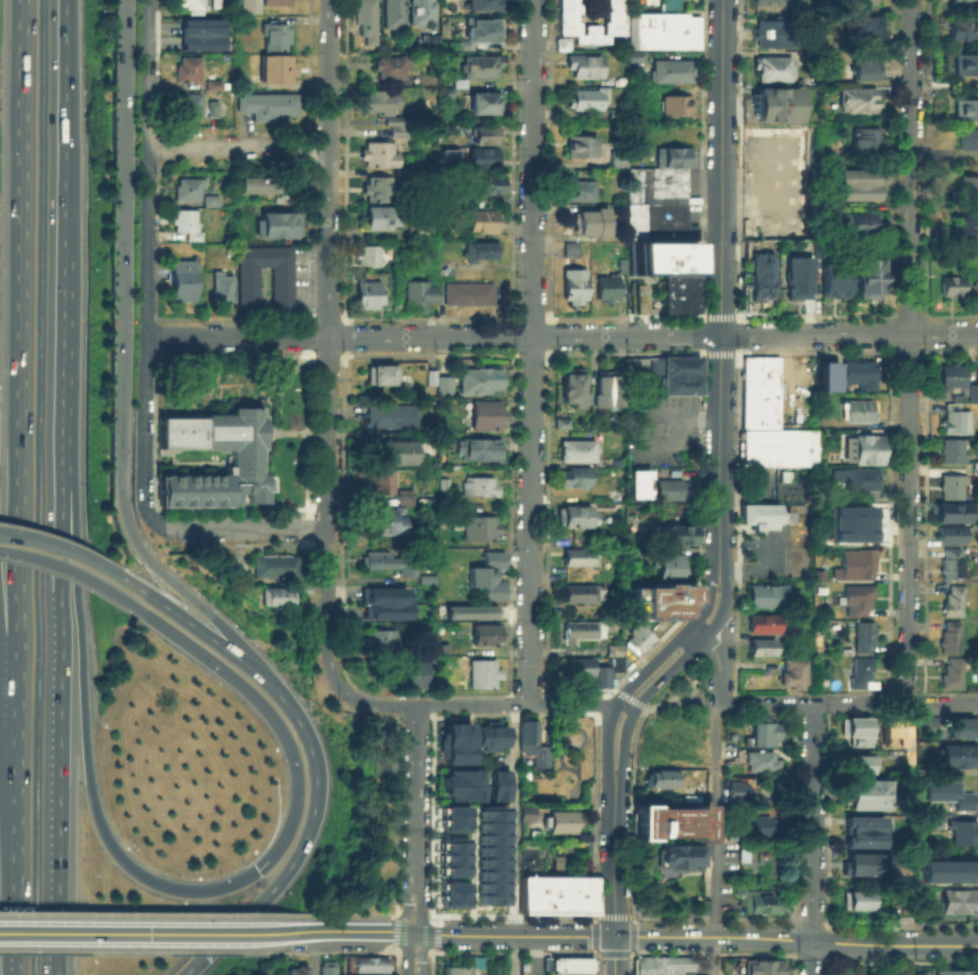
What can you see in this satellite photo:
building: (763, 2)
building: (962, 2)
building: (278, 3)
building: (860, 3)
building: (218, 4)
building: (669, 4)
building: (832, 4)
building: (489, 5)
building: (193, 6)
building: (248, 7)
building: (423, 13)
building: (395, 15)
building: (368, 17)
building: (567, 22)
building: (771, 26)
building: (866, 28)
building: (961, 30)
building: (660, 32)
building: (201, 33)
building: (483, 34)
building: (278, 37)
building: (823, 37)
building: (428, 39)
building: (770, 40)
building: (561, 42)
building: (433, 45)
building: (961, 65)
building: (394, 66)
building: (586, 66)
building: (863, 66)
building: (772, 68)
building: (191, 70)
building: (480, 70)
building: (279, 71)
building: (669, 72)
building: (826, 78)
building: (217, 86)
building: (443, 91)
building: (382, 101)
building: (589, 101)
building: (854, 101)
building: (481, 102)
building: (672, 105)
building: (775, 105)
building: (191, 107)
building: (270, 107)
building: (215, 110)
building: (961, 110)
building: (619, 117)
building: (396, 125)
road: (60, 132)
building: (483, 134)
building: (966, 139)
building: (861, 141)
road: (237, 145)
building: (582, 149)
building: (382, 156)
building: (448, 156)
building: (672, 157)
building: (486, 159)
building: (617, 159)
road: (327, 168)
building: (407, 177)
building: (855, 178)
building: (787, 183)
building: (654, 185)
building: (260, 187)
building: (488, 187)
building: (965, 188)
building: (578, 189)
building: (190, 191)
building: (379, 191)
building: (854, 194)
building: (213, 203)
building: (384, 220)
building: (788, 222)
building: (486, 223)
building: (656, 223)
building: (282, 224)
building: (593, 224)
building: (857, 224)
building: (189, 225)
building: (965, 227)
building: (418, 232)
building: (574, 251)
building: (482, 252)
building: (370, 257)
road: (145, 267)
building: (624, 268)
road: (721, 270)
building: (761, 277)
building: (797, 278)
building: (866, 278)
building: (838, 279)
building: (974, 281)
building: (185, 282)
building: (950, 286)
building: (224, 287)
building: (577, 288)
building: (609, 290)
building: (283, 293)
building: (471, 295)
building: (372, 296)
building: (680, 296)
building: (421, 298)
building: (636, 298)
building: (743, 304)
road: (652, 334)
road: (236, 338)
road: (908, 350)
road: (531, 352)
road: (124, 361)
building: (856, 373)
building: (826, 375)
building: (950, 375)
building: (384, 376)
building: (680, 376)
road: (58, 377)
building: (432, 379)
building: (482, 382)
building: (610, 384)
building: (445, 389)
building: (972, 389)
building: (760, 396)
building: (262, 402)
building: (858, 411)
building: (488, 417)
building: (394, 418)
building: (561, 422)
building: (439, 423)
building: (958, 424)
parking lot: (661, 439)
building: (778, 449)
building: (866, 450)
building: (481, 452)
building: (581, 452)
building: (955, 452)
building: (402, 454)
building: (247, 462)
building: (976, 465)
building: (976, 472)
building: (576, 480)
building: (860, 480)
building: (638, 483)
road: (325, 484)
building: (382, 485)
building: (446, 486)
road: (20, 487)
building: (482, 487)
building: (955, 488)
building: (675, 492)
building: (616, 497)
building: (826, 505)
building: (954, 514)
building: (393, 516)
building: (761, 516)
building: (579, 518)
building: (863, 518)
road: (243, 526)
building: (482, 530)
road: (58, 537)
building: (683, 537)
building: (954, 537)
building: (854, 539)
road: (21, 547)
building: (583, 559)
road: (88, 560)
building: (388, 561)
building: (853, 565)
building: (953, 565)
building: (276, 567)
building: (673, 569)
building: (240, 570)
road: (762, 570)
building: (491, 576)
building: (425, 578)
road: (85, 579)
building: (381, 594)
building: (587, 595)
building: (855, 597)
building: (276, 598)
building: (768, 598)
building: (668, 601)
building: (957, 602)
building: (383, 610)
building: (468, 611)
road: (71, 622)
road: (193, 626)
building: (765, 626)
road: (684, 631)
building: (584, 633)
building: (793, 634)
road: (705, 635)
road: (726, 635)
building: (490, 637)
building: (861, 637)
building: (953, 638)
building: (642, 639)
building: (381, 643)
building: (764, 649)
road: (717, 659)
road: (325, 661)
building: (599, 670)
building: (860, 672)
building: (797, 674)
building: (956, 675)
building: (486, 676)
road: (7, 677)
building: (411, 678)
road: (689, 689)
road: (633, 700)
road: (849, 702)
road: (375, 703)
road: (525, 704)
road: (699, 704)
building: (925, 719)
building: (854, 726)
building: (960, 726)
building: (759, 730)
building: (453, 732)
building: (483, 735)
building: (498, 735)
building: (531, 742)
building: (453, 752)
building: (956, 754)
road: (606, 756)
road: (624, 758)
building: (759, 758)
building: (856, 764)
building: (524, 774)
building: (459, 775)
building: (497, 776)
building: (660, 778)
road: (55, 779)
building: (862, 787)
building: (734, 789)
building: (460, 791)
building: (497, 792)
building: (949, 792)
building: (862, 802)
building: (536, 808)
building: (526, 812)
building: (643, 812)
road: (415, 817)
building: (453, 818)
building: (927, 818)
road: (715, 819)
building: (560, 820)
building: (676, 822)
building: (755, 823)
building: (859, 824)
building: (729, 830)
building: (961, 830)
building: (534, 833)
road: (285, 835)
building: (582, 835)
road: (307, 836)
road: (812, 839)
road: (514, 840)
building: (858, 840)
building: (490, 854)
building: (679, 854)
building: (452, 856)
building: (557, 861)
building: (861, 861)
traffic signals: (258, 868)
building: (947, 870)
road: (615, 871)
building: (452, 893)
building: (554, 894)
building: (755, 898)
building: (956, 900)
building: (851, 901)
building: (703, 904)
road: (158, 913)
road: (355, 914)
road: (414, 914)
road: (513, 915)
road: (604, 916)
road: (357, 929)
road: (17, 930)
road: (167, 931)
road: (394, 933)
road: (433, 933)
road: (515, 933)
road: (594, 934)
road: (796, 940)
road: (633, 944)
road: (157, 950)
road: (353, 951)
road: (412, 951)
road: (313, 952)
road: (414, 952)
road: (513, 952)
road: (614, 955)
road: (714, 956)
road: (909, 960)
building: (365, 963)
building: (568, 964)
building: (674, 964)
building: (461, 965)
building: (645, 965)
building: (760, 966)
building: (325, 968)
building: (293, 970)
building: (953, 972)
building: (365, 974)
building: (694, 974)

